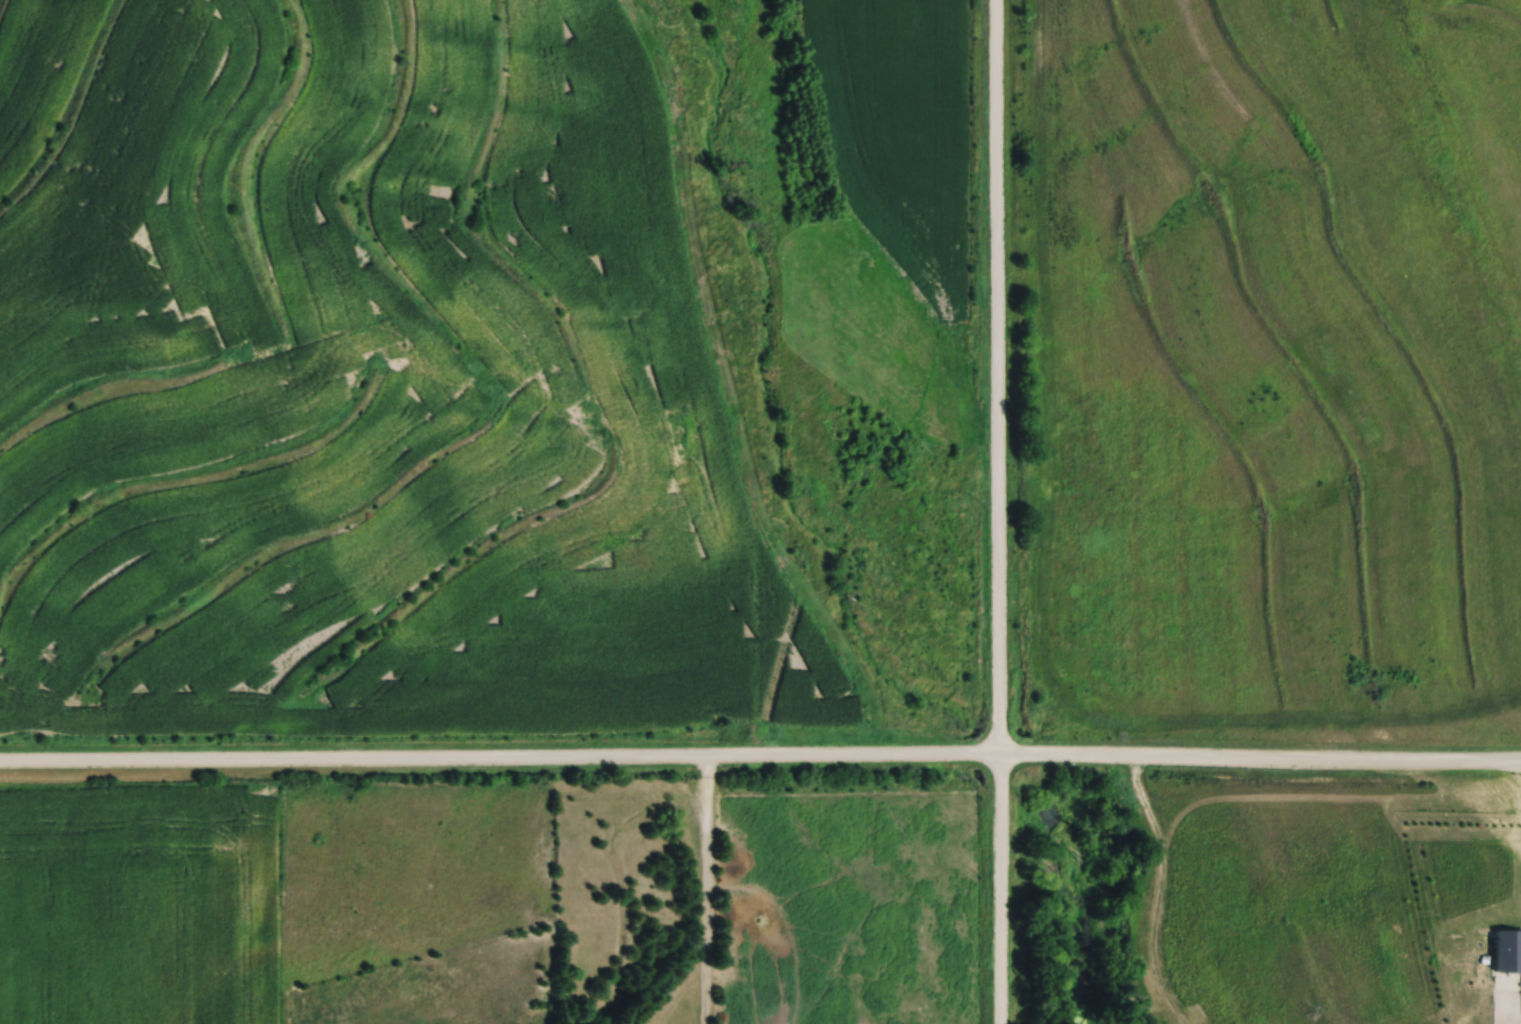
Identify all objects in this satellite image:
road: (995, 378)
road: (1259, 760)
road: (498, 762)
road: (997, 890)
road: (708, 892)

